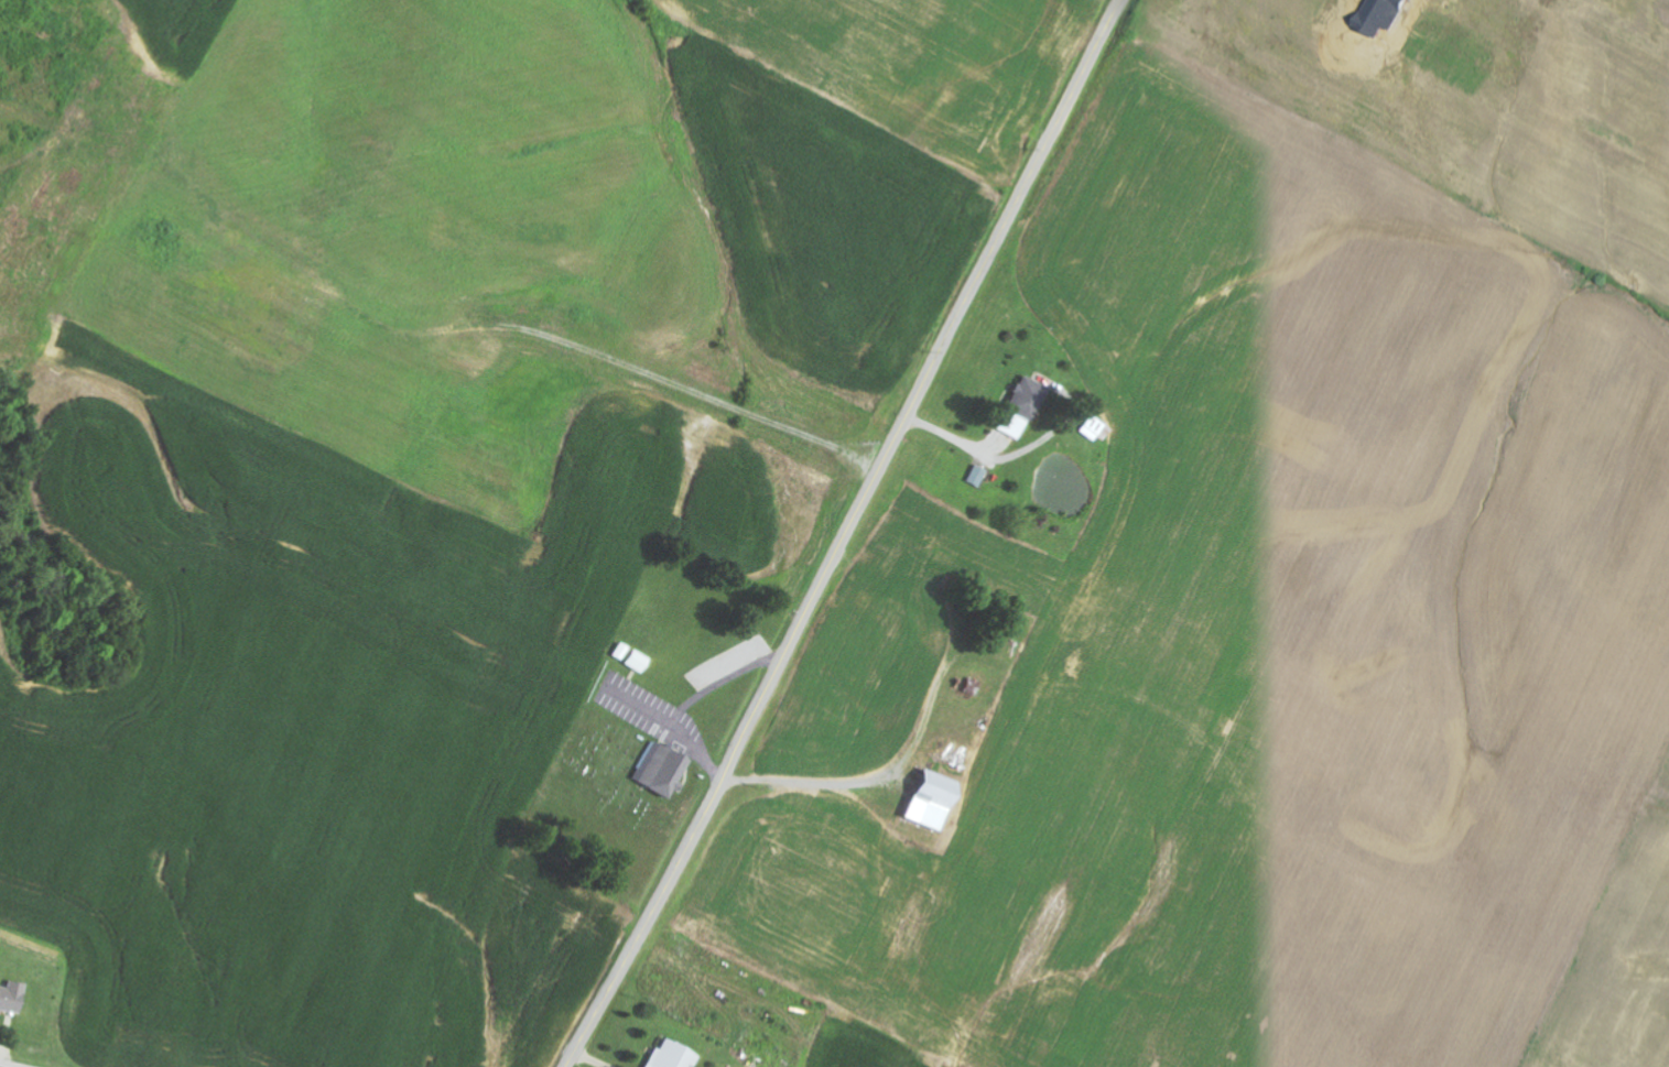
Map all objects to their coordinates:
building: (1020, 407)
building: (979, 477)
road: (847, 534)
building: (635, 661)
building: (971, 687)
building: (657, 770)
park: (603, 783)
building: (925, 799)
building: (8, 997)
building: (669, 1056)

